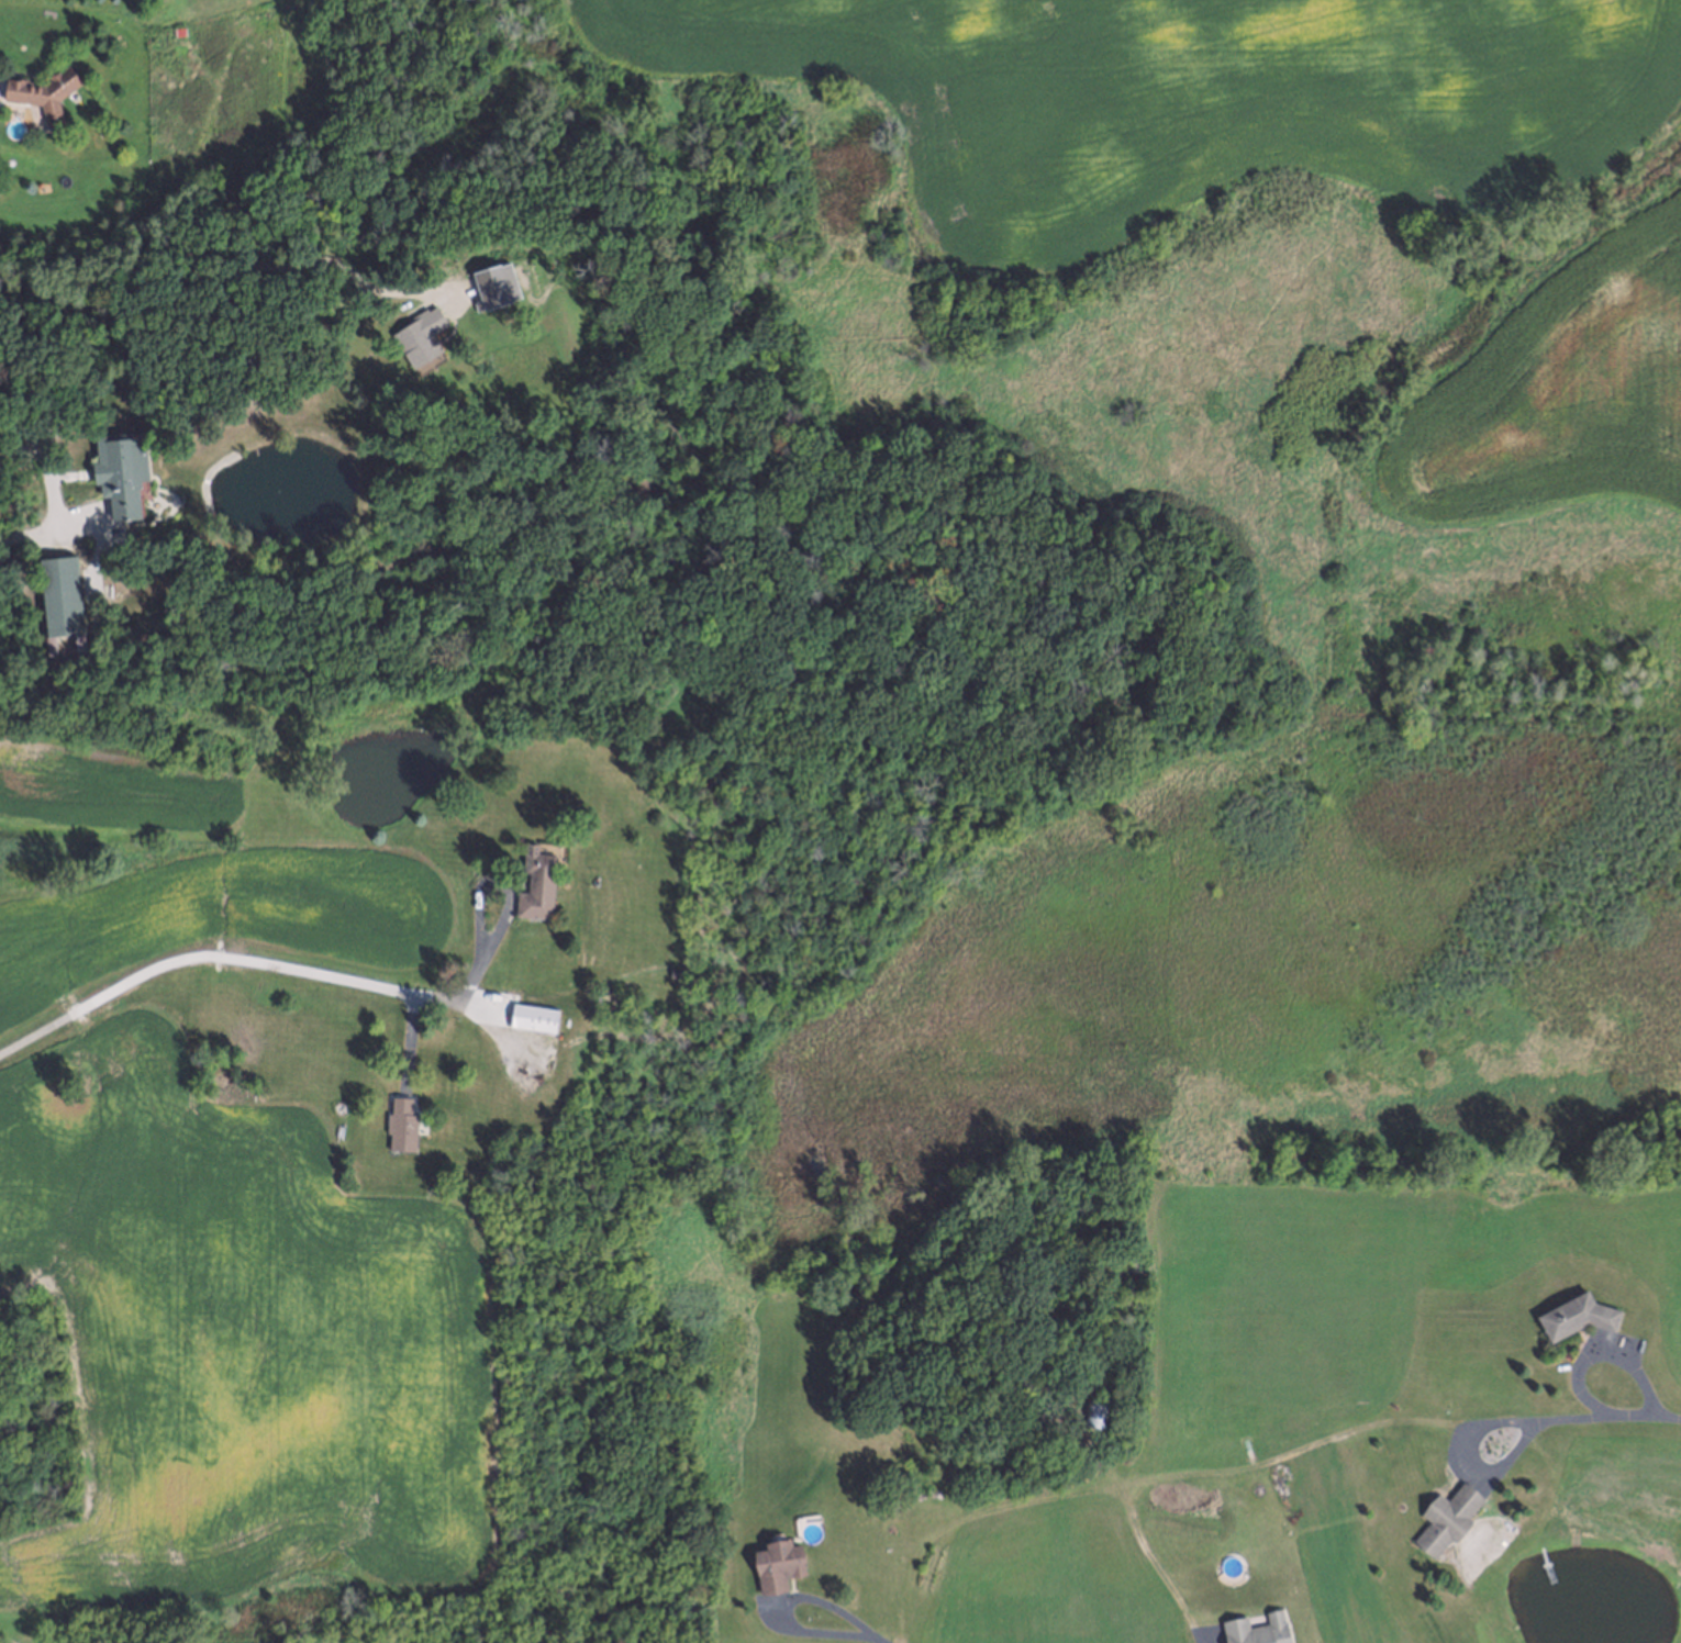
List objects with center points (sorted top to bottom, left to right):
building: (42, 92)
road: (211, 262)
building: (493, 284)
building: (418, 333)
building: (114, 474)
road: (53, 494)
building: (52, 600)
building: (538, 885)
road: (255, 961)
building: (535, 1018)
building: (403, 1126)
building: (1578, 1317)
road: (1599, 1351)
road: (1606, 1416)
road: (1466, 1460)
building: (1447, 1520)
building: (779, 1566)
road: (771, 1605)
building: (1258, 1630)
road: (1196, 1636)
road: (877, 1638)

